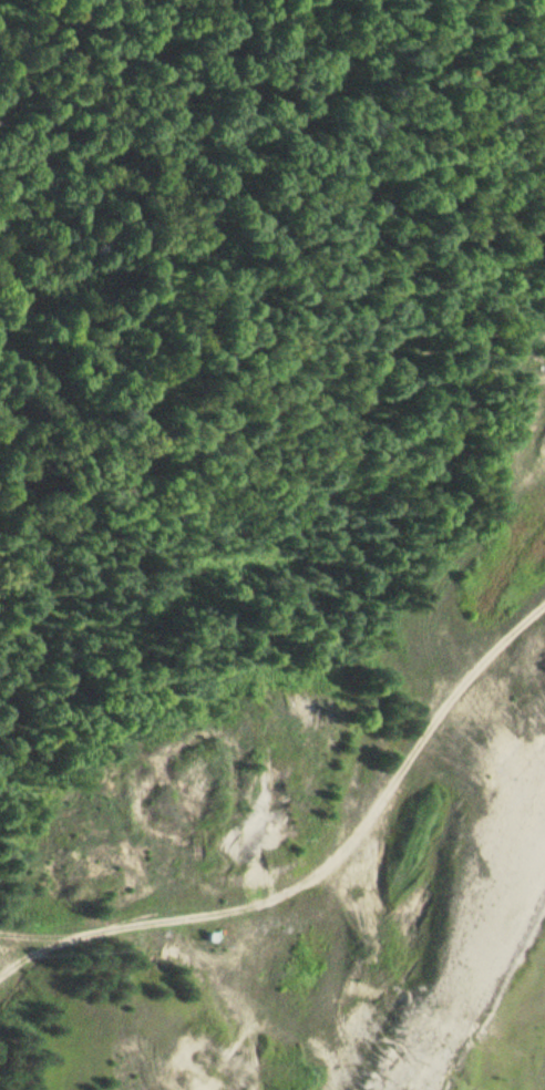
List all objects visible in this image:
quarry: (308, 842)

